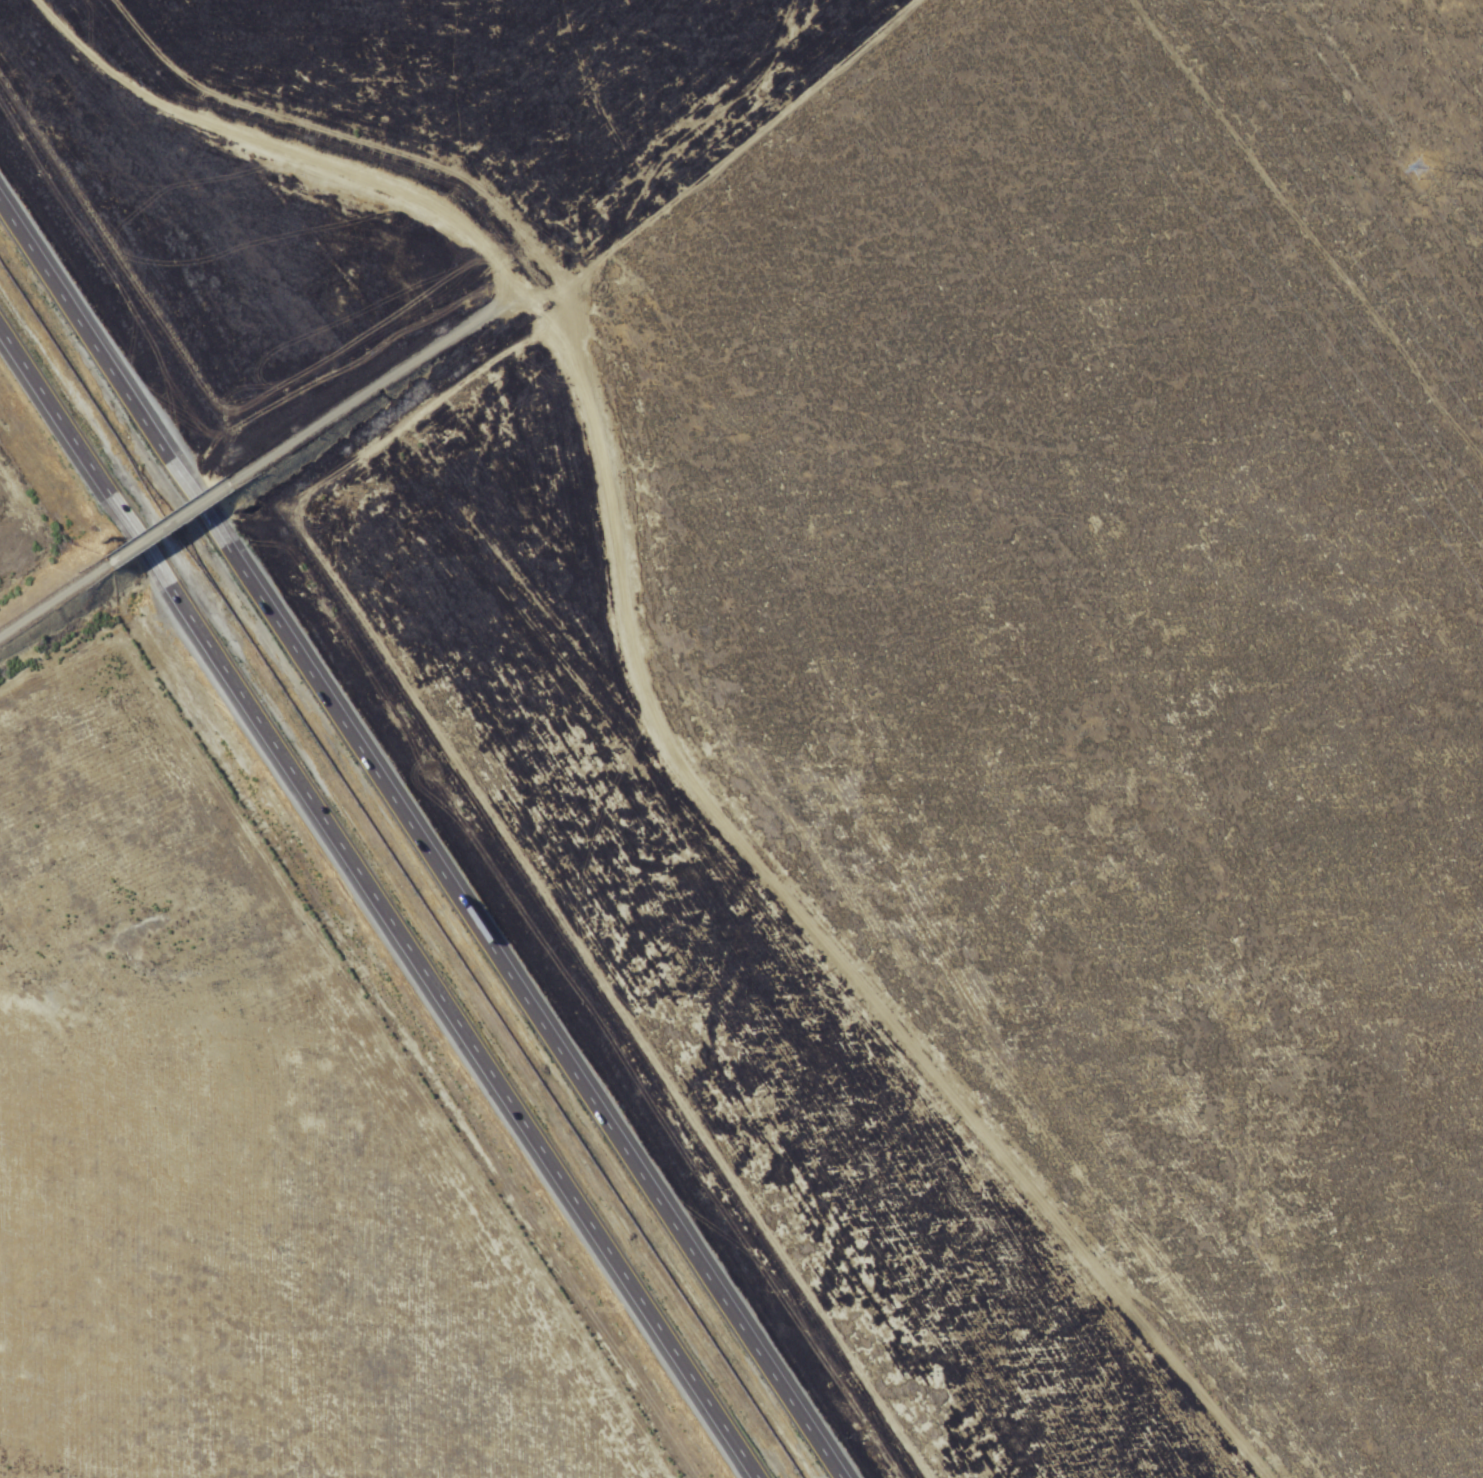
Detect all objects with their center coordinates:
power tower: (1422, 172)
road: (372, 389)
road: (175, 527)
road: (53, 606)
road: (616, 693)
road: (424, 832)
road: (383, 901)
building: (495, 949)

